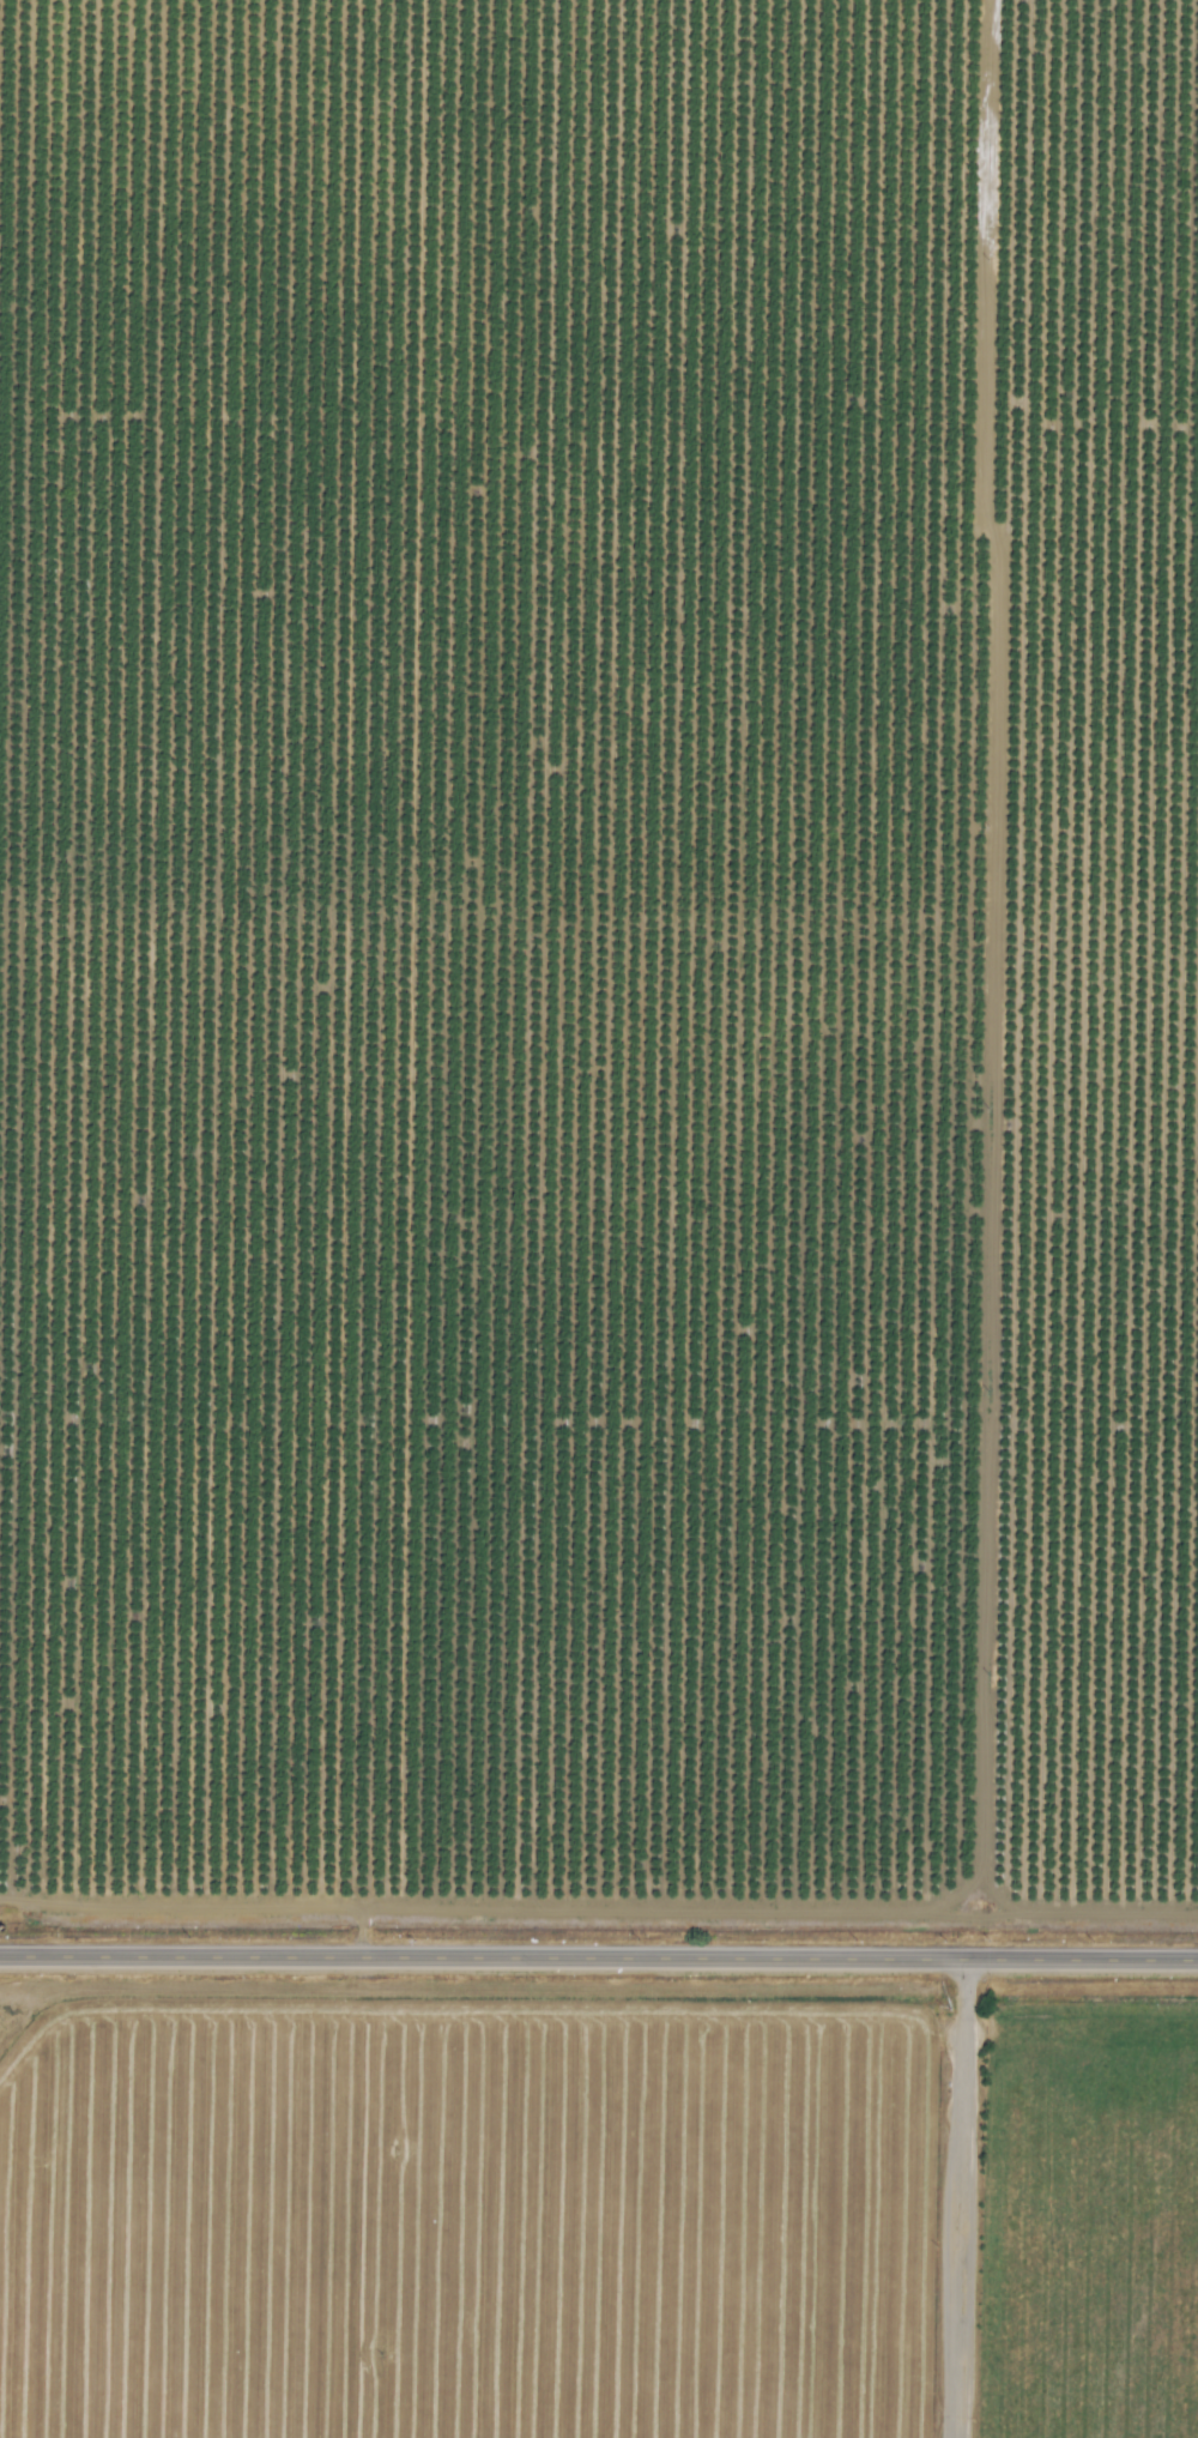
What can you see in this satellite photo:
road: (598, 1943)
road: (960, 2189)

